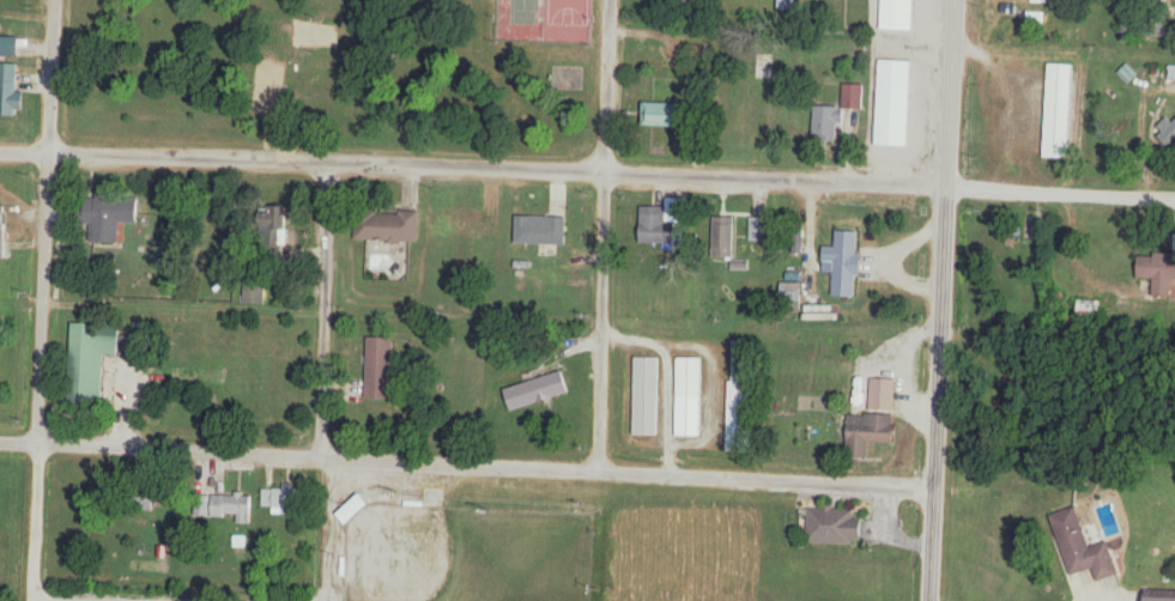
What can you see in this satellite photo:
building: (672, 1)
building: (786, 6)
building: (898, 16)
park: (541, 20)
park: (334, 74)
building: (8, 91)
building: (894, 104)
building: (1058, 111)
building: (836, 114)
building: (661, 115)
building: (1167, 132)
road: (587, 170)
building: (108, 214)
building: (660, 218)
building: (275, 224)
building: (465, 224)
building: (387, 227)
building: (540, 230)
building: (2, 233)
road: (604, 233)
building: (842, 263)
building: (1159, 274)
building: (254, 291)
building: (789, 292)
road: (47, 299)
road: (939, 299)
road: (328, 310)
building: (90, 363)
building: (378, 366)
building: (537, 391)
building: (882, 395)
building: (644, 396)
building: (739, 396)
building: (688, 397)
building: (867, 433)
road: (466, 463)
building: (280, 500)
building: (232, 506)
building: (356, 509)
building: (834, 527)
road: (327, 529)
building: (1083, 547)
park: (466, 553)
building: (1161, 595)
road: (66, 600)

